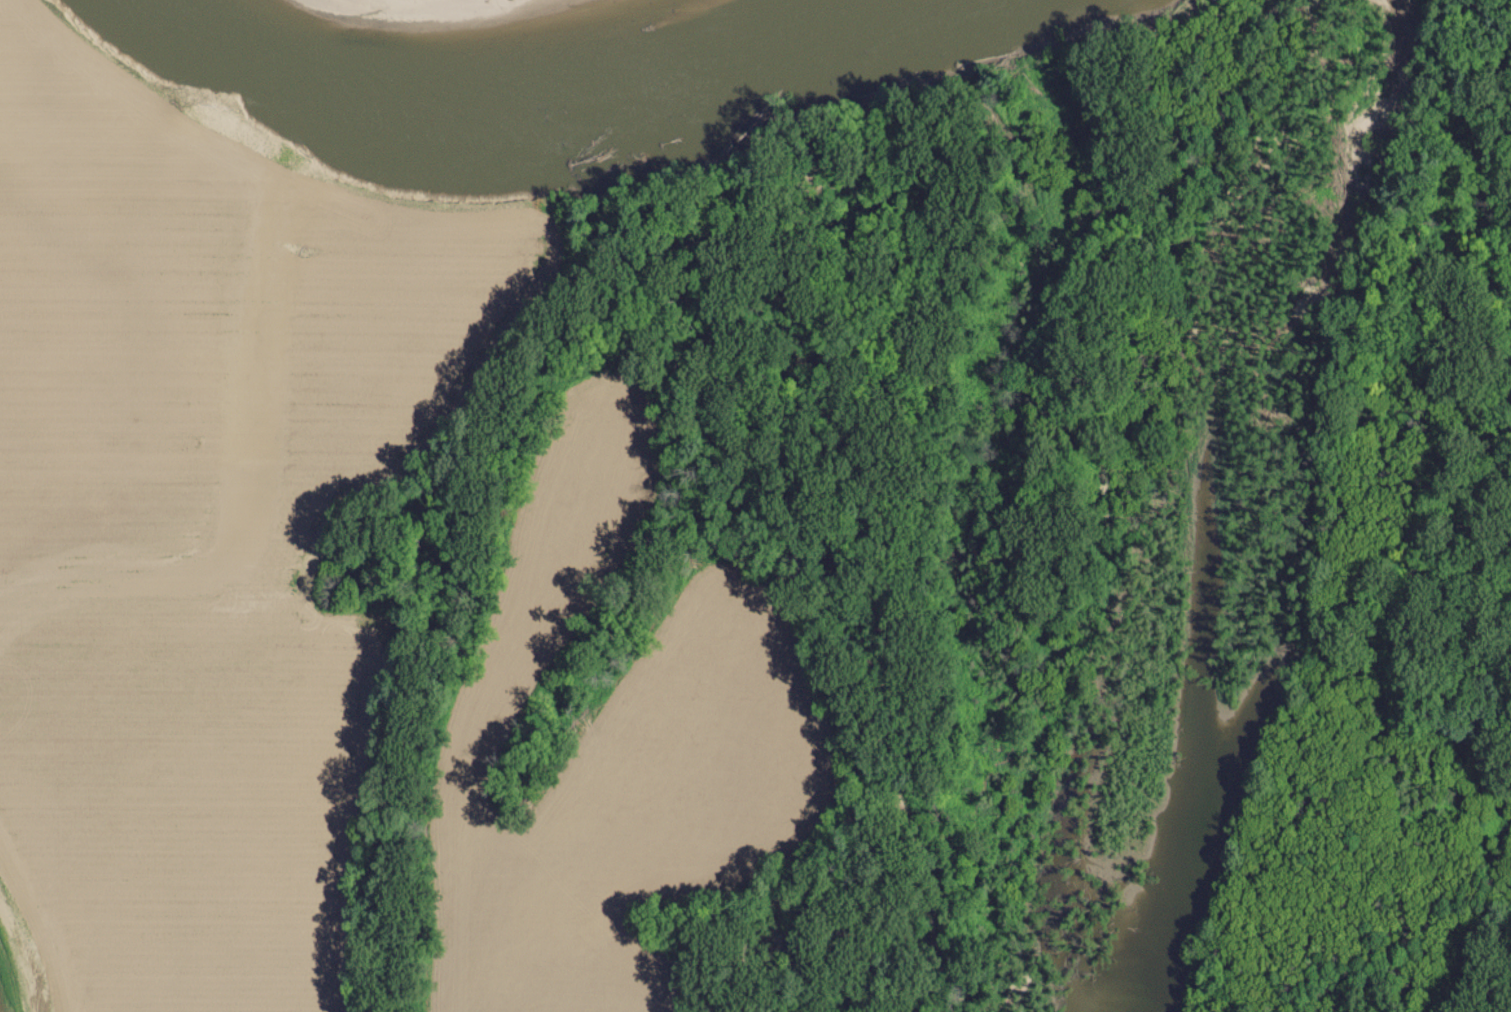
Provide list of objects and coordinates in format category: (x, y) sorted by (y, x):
river: (636, 6)
road: (38, 944)

